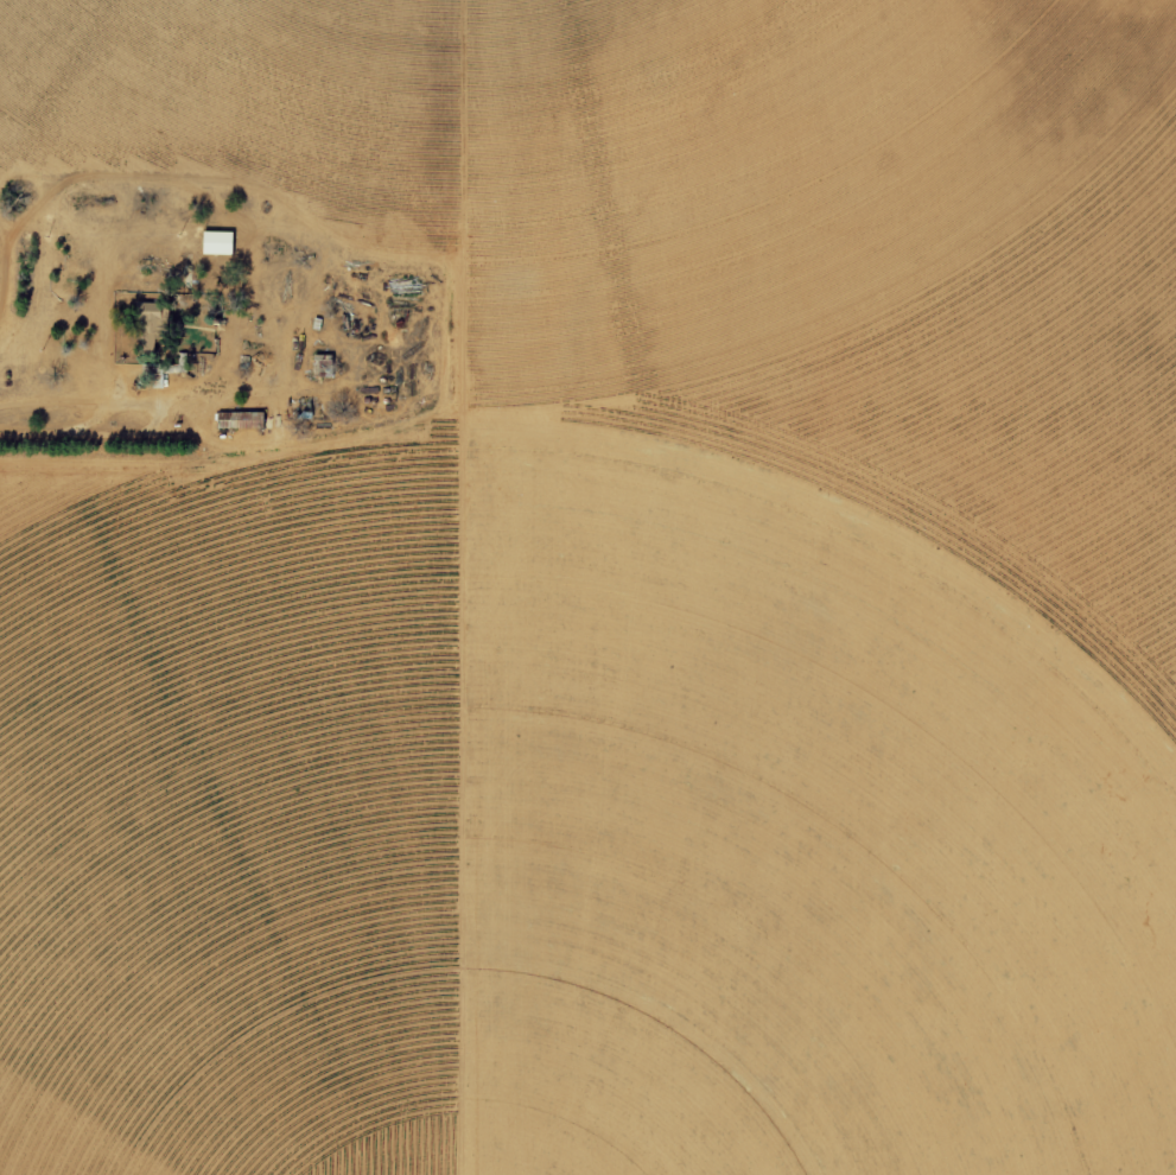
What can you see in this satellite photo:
building: (220, 242)
road: (81, 434)

